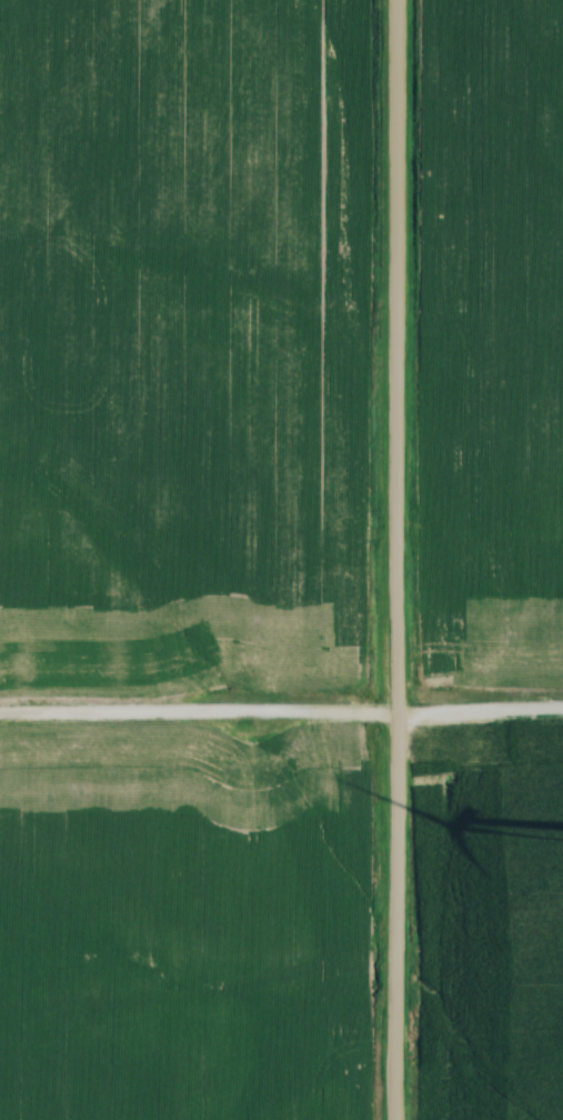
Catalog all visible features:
road: (390, 559)
road: (281, 713)

